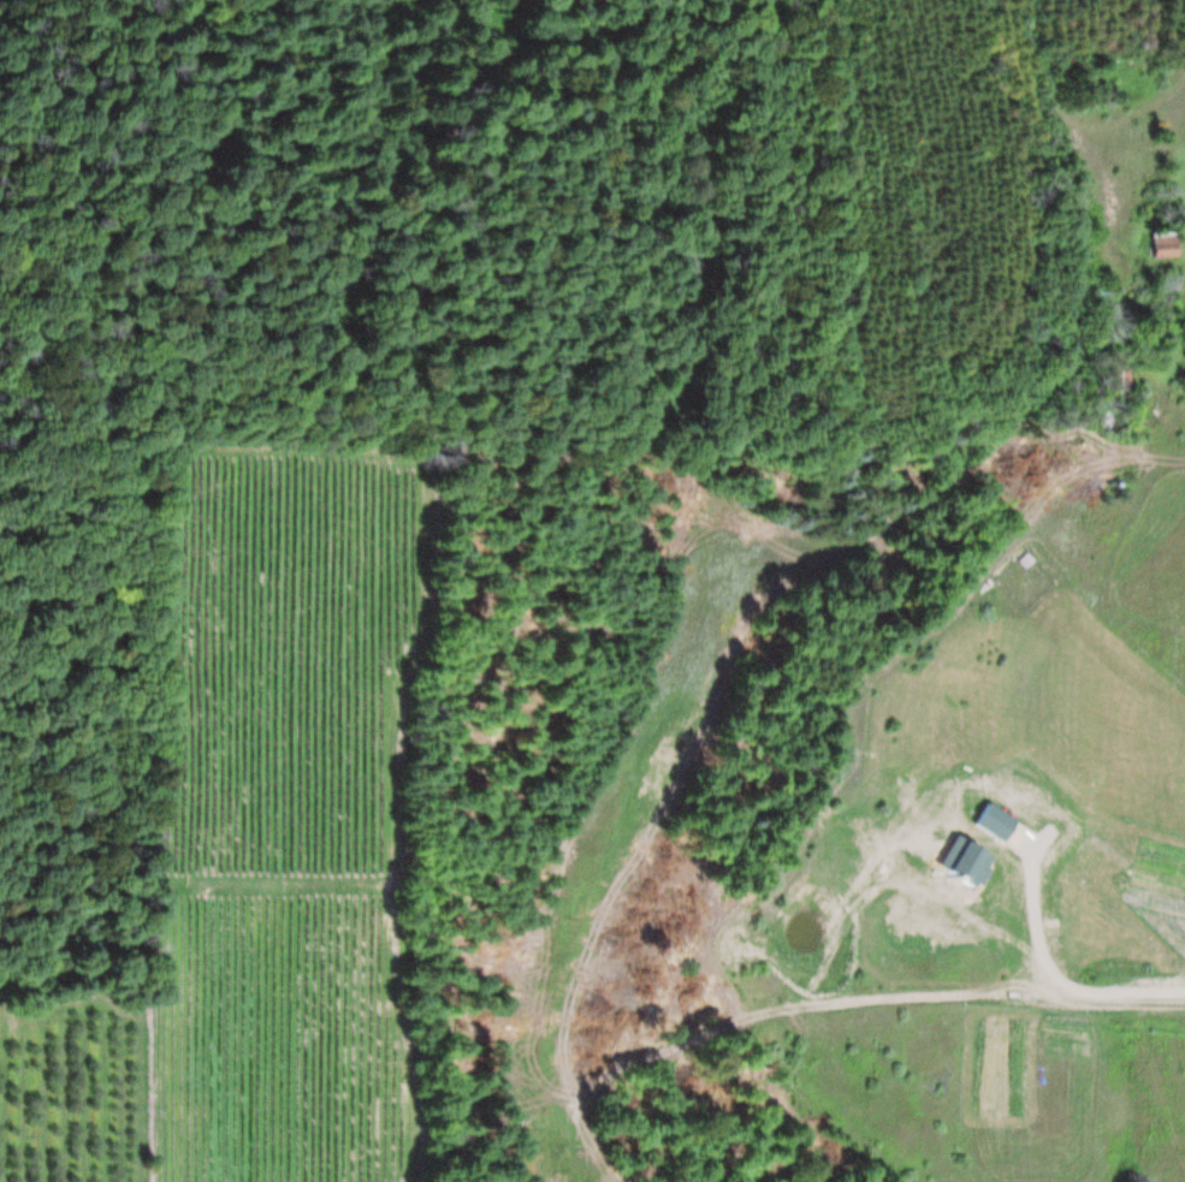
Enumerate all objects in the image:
building: (1156, 243)
building: (1115, 385)
road: (1057, 985)

